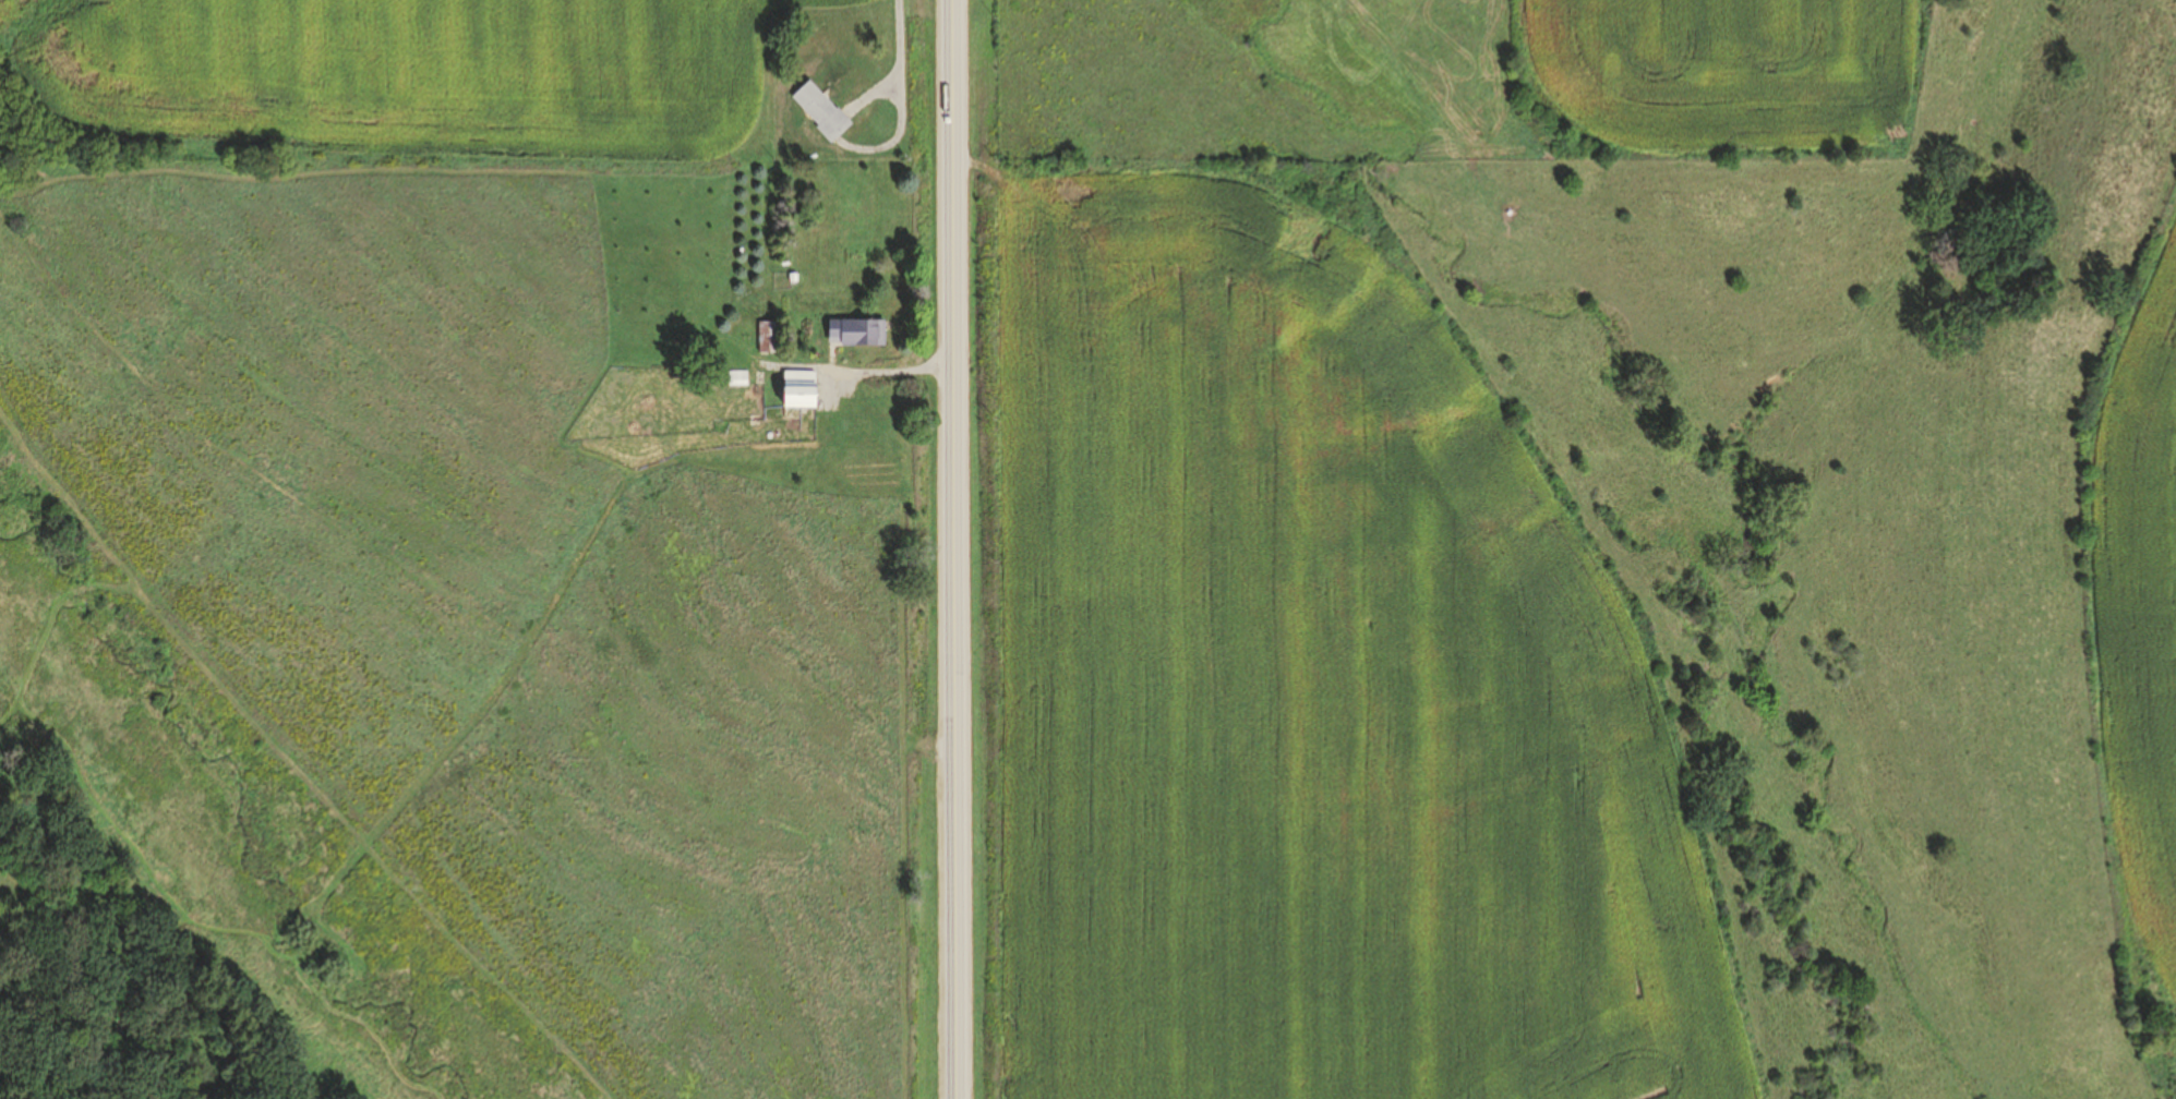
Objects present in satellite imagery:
building: (816, 111)
building: (850, 331)
building: (761, 336)
building: (733, 377)
building: (792, 389)
road: (953, 549)

